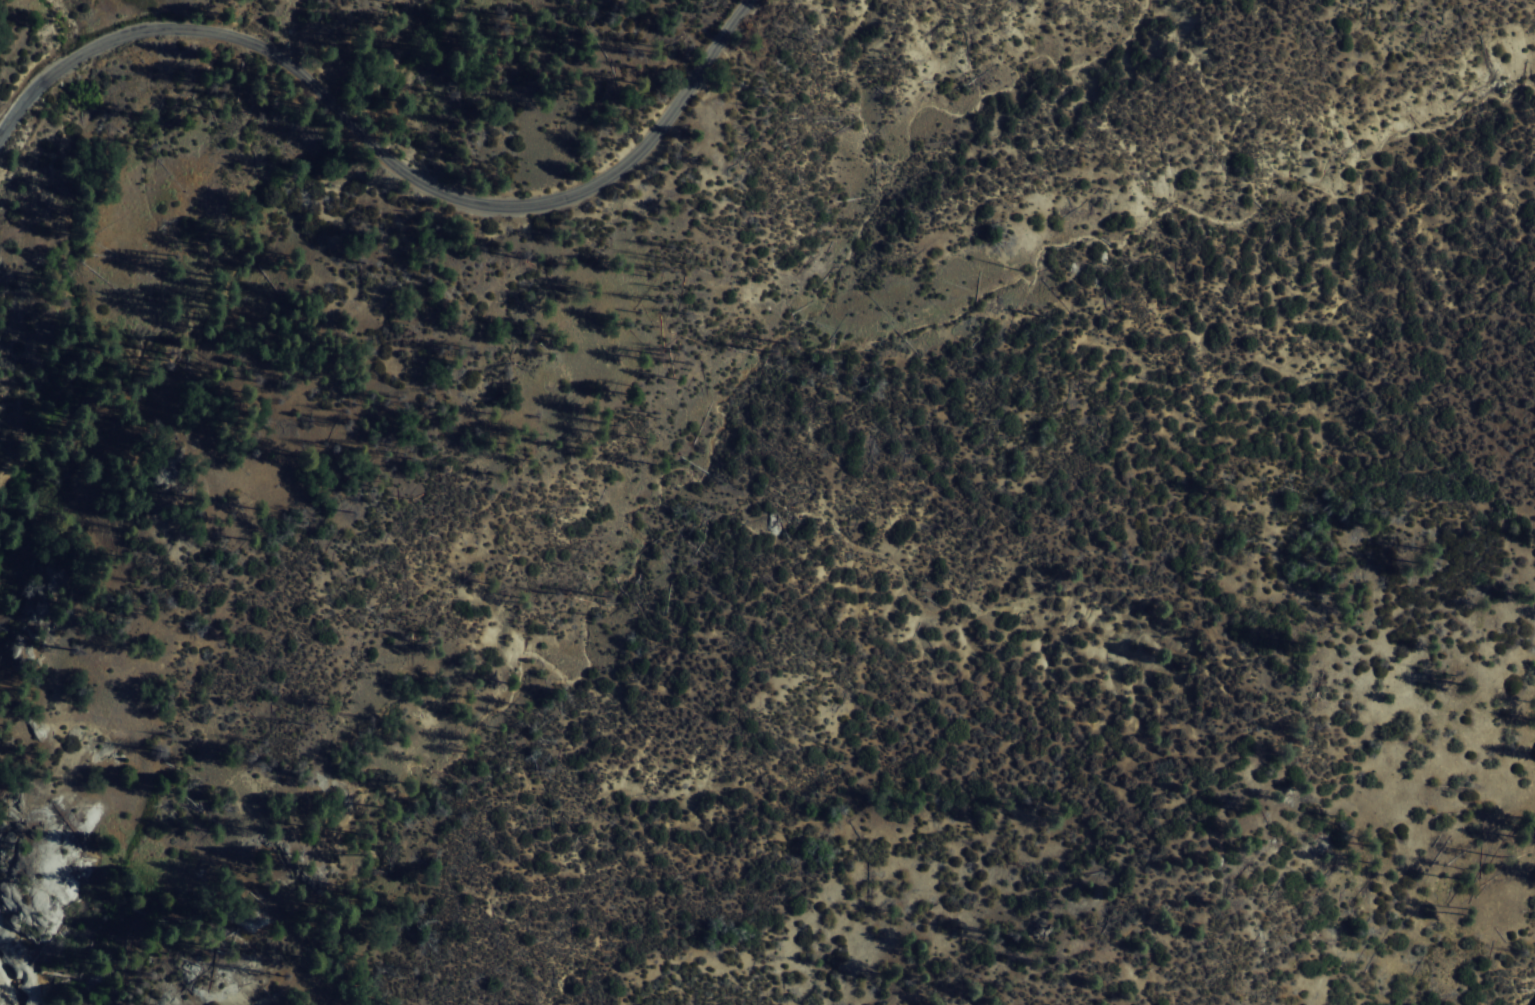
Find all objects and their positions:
road: (388, 157)

